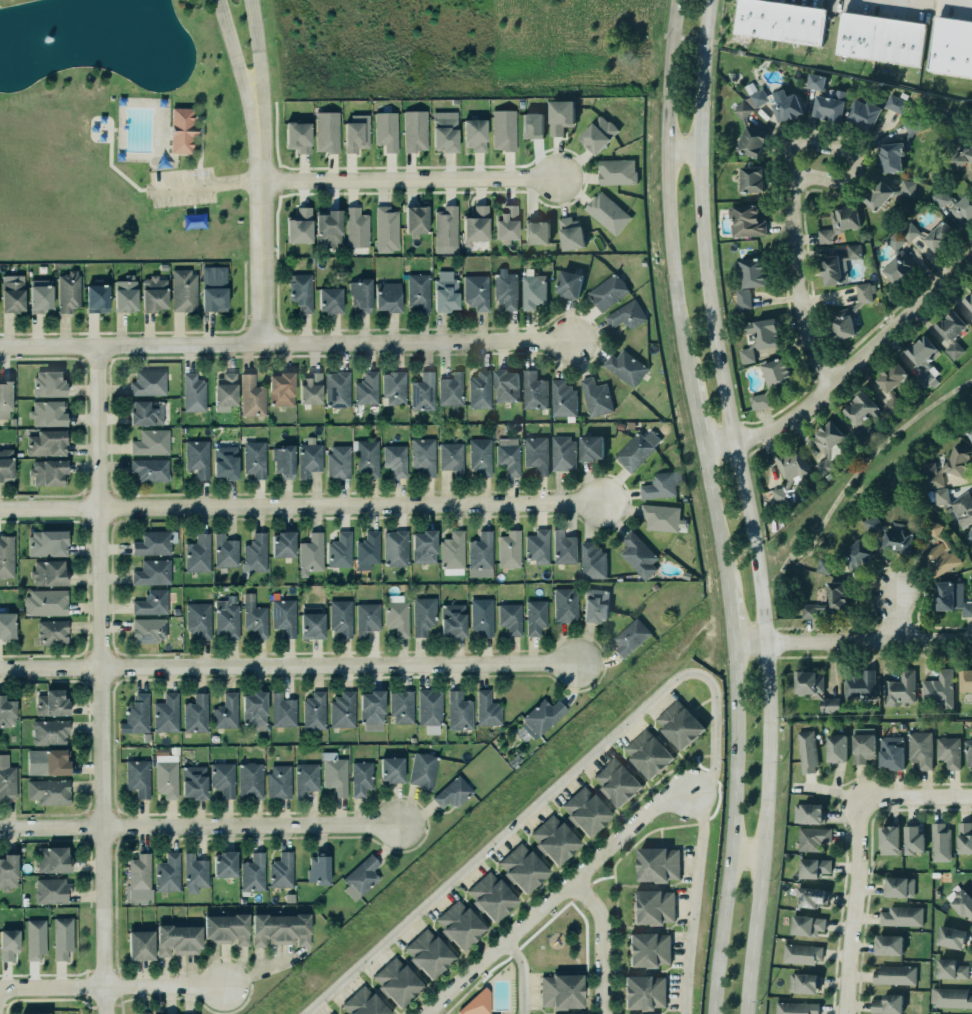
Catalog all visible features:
road: (895, 3)
building: (778, 22)
road: (252, 30)
fountain: (55, 34)
building: (880, 39)
building: (952, 48)
road: (234, 55)
road: (256, 85)
building: (761, 99)
building: (826, 100)
building: (896, 105)
building: (786, 109)
building: (864, 114)
road: (196, 116)
building: (561, 117)
building: (530, 122)
road: (201, 123)
road: (111, 125)
building: (914, 125)
building: (180, 129)
building: (503, 129)
road: (113, 130)
road: (197, 130)
building: (385, 130)
building: (413, 130)
building: (327, 132)
building: (443, 133)
building: (748, 133)
park: (119, 134)
building: (297, 135)
building: (354, 135)
building: (474, 135)
building: (598, 135)
road: (110, 147)
road: (200, 148)
road: (685, 150)
building: (969, 154)
building: (892, 157)
building: (957, 160)
building: (617, 171)
road: (125, 177)
road: (409, 178)
building: (751, 179)
road: (202, 183)
road: (197, 185)
parking lot: (181, 186)
road: (670, 187)
road: (142, 190)
road: (790, 193)
building: (891, 193)
building: (955, 204)
road: (193, 208)
building: (608, 213)
building: (416, 219)
building: (745, 220)
building: (506, 224)
building: (476, 225)
building: (840, 225)
building: (446, 226)
road: (264, 227)
building: (299, 227)
building: (327, 227)
building: (355, 227)
building: (386, 230)
building: (537, 232)
building: (910, 232)
building: (571, 234)
building: (939, 236)
building: (852, 252)
building: (898, 262)
building: (831, 270)
building: (749, 278)
building: (569, 284)
building: (213, 288)
building: (299, 290)
building: (506, 290)
building: (68, 291)
building: (184, 291)
building: (417, 291)
building: (445, 291)
building: (607, 291)
building: (476, 292)
building: (533, 292)
building: (12, 293)
building: (359, 293)
building: (863, 293)
building: (125, 294)
building: (151, 294)
building: (386, 295)
building: (97, 297)
building: (38, 298)
building: (328, 299)
building: (968, 300)
building: (626, 315)
building: (842, 324)
building: (971, 325)
building: (971, 326)
building: (952, 333)
building: (758, 338)
road: (287, 345)
building: (923, 359)
building: (625, 367)
road: (843, 367)
building: (776, 373)
building: (147, 382)
building: (48, 384)
building: (891, 385)
building: (506, 386)
building: (394, 388)
building: (281, 389)
building: (311, 389)
building: (337, 389)
building: (367, 389)
building: (449, 389)
building: (479, 390)
building: (532, 390)
building: (422, 391)
building: (225, 392)
building: (193, 393)
building: (251, 396)
building: (594, 397)
building: (5, 399)
building: (563, 400)
building: (760, 401)
road: (697, 411)
building: (47, 413)
building: (144, 413)
building: (861, 416)
building: (970, 434)
building: (45, 442)
building: (150, 443)
building: (827, 446)
building: (590, 447)
building: (636, 450)
building: (562, 453)
building: (422, 454)
building: (536, 455)
building: (366, 456)
building: (196, 457)
building: (479, 457)
building: (253, 458)
building: (309, 458)
building: (450, 458)
building: (394, 459)
building: (506, 459)
building: (283, 461)
building: (337, 461)
building: (224, 462)
building: (958, 462)
building: (6, 465)
building: (793, 466)
building: (150, 469)
building: (46, 470)
road: (855, 473)
building: (931, 476)
building: (661, 484)
building: (780, 495)
building: (955, 505)
road: (747, 506)
road: (302, 508)
building: (660, 517)
road: (717, 517)
building: (933, 528)
building: (889, 535)
building: (970, 536)
building: (45, 543)
building: (153, 543)
building: (283, 545)
building: (422, 547)
building: (537, 547)
building: (395, 548)
building: (564, 548)
building: (339, 549)
building: (508, 549)
building: (367, 550)
building: (225, 551)
building: (480, 551)
building: (255, 553)
building: (198, 554)
building: (311, 554)
building: (453, 554)
building: (637, 555)
building: (859, 555)
building: (6, 557)
building: (940, 559)
building: (593, 562)
building: (824, 566)
building: (151, 572)
building: (48, 573)
building: (944, 596)
building: (827, 600)
building: (46, 602)
building: (151, 603)
building: (565, 605)
building: (596, 605)
building: (964, 608)
building: (283, 616)
building: (422, 616)
building: (482, 616)
road: (732, 616)
building: (226, 617)
building: (253, 617)
building: (395, 617)
building: (509, 617)
building: (535, 617)
road: (896, 617)
building: (341, 618)
building: (366, 618)
building: (197, 619)
building: (451, 619)
building: (312, 623)
building: (7, 626)
building: (148, 630)
building: (52, 632)
building: (631, 637)
road: (853, 641)
road: (288, 668)
road: (103, 680)
building: (966, 681)
building: (859, 685)
building: (898, 689)
building: (815, 690)
building: (939, 690)
building: (51, 704)
building: (429, 706)
building: (402, 707)
building: (486, 708)
building: (281, 709)
building: (342, 710)
building: (225, 711)
building: (253, 711)
building: (314, 711)
building: (372, 711)
building: (459, 711)
building: (7, 713)
building: (165, 713)
building: (138, 714)
building: (196, 714)
building: (540, 716)
road: (635, 716)
building: (678, 724)
building: (49, 732)
building: (861, 747)
building: (836, 749)
building: (921, 750)
building: (807, 752)
building: (949, 752)
building: (968, 752)
building: (648, 753)
building: (890, 757)
building: (47, 762)
building: (390, 769)
building: (422, 770)
building: (335, 774)
building: (136, 777)
building: (165, 778)
building: (305, 778)
building: (361, 778)
building: (223, 779)
building: (250, 780)
building: (278, 780)
building: (194, 782)
building: (615, 782)
building: (8, 783)
road: (828, 789)
building: (47, 791)
building: (453, 793)
road: (915, 799)
building: (584, 810)
building: (809, 814)
road: (199, 827)
road: (731, 828)
building: (963, 838)
building: (813, 839)
building: (553, 840)
building: (887, 840)
building: (912, 840)
building: (941, 842)
road: (745, 852)
building: (52, 859)
building: (223, 864)
building: (656, 864)
building: (520, 867)
building: (318, 868)
building: (812, 868)
building: (8, 871)
building: (193, 871)
building: (281, 871)
building: (252, 872)
building: (167, 873)
building: (359, 875)
building: (138, 878)
building: (899, 887)
building: (51, 891)
building: (490, 896)
building: (810, 897)
road: (555, 899)
building: (962, 903)
building: (652, 907)
road: (854, 907)
building: (902, 917)
building: (458, 925)
building: (806, 925)
building: (223, 930)
building: (279, 930)
building: (62, 938)
building: (951, 938)
building: (176, 939)
park: (560, 939)
building: (35, 940)
road: (604, 943)
building: (7, 944)
building: (139, 945)
building: (888, 945)
building: (647, 949)
building: (427, 954)
building: (802, 954)
building: (950, 969)
road: (481, 974)
road: (523, 975)
building: (894, 975)
building: (395, 978)
road: (478, 980)
building: (803, 983)
road: (164, 985)
road: (51, 986)
road: (476, 986)
road: (480, 986)
road: (486, 987)
building: (560, 990)
park: (488, 991)
building: (642, 992)
road: (119, 997)
road: (165, 997)
building: (950, 997)
road: (126, 998)
road: (458, 999)
road: (119, 1002)
road: (120, 1002)
road: (490, 1002)
building: (364, 1003)
building: (476, 1003)
road: (116, 1004)
building: (886, 1004)
building: (797, 1008)
road: (121, 1009)
road: (230, 1010)
building: (32, 1013)
building: (143, 1013)
building: (329, 1013)
building: (332, 1013)
road: (456, 1013)

